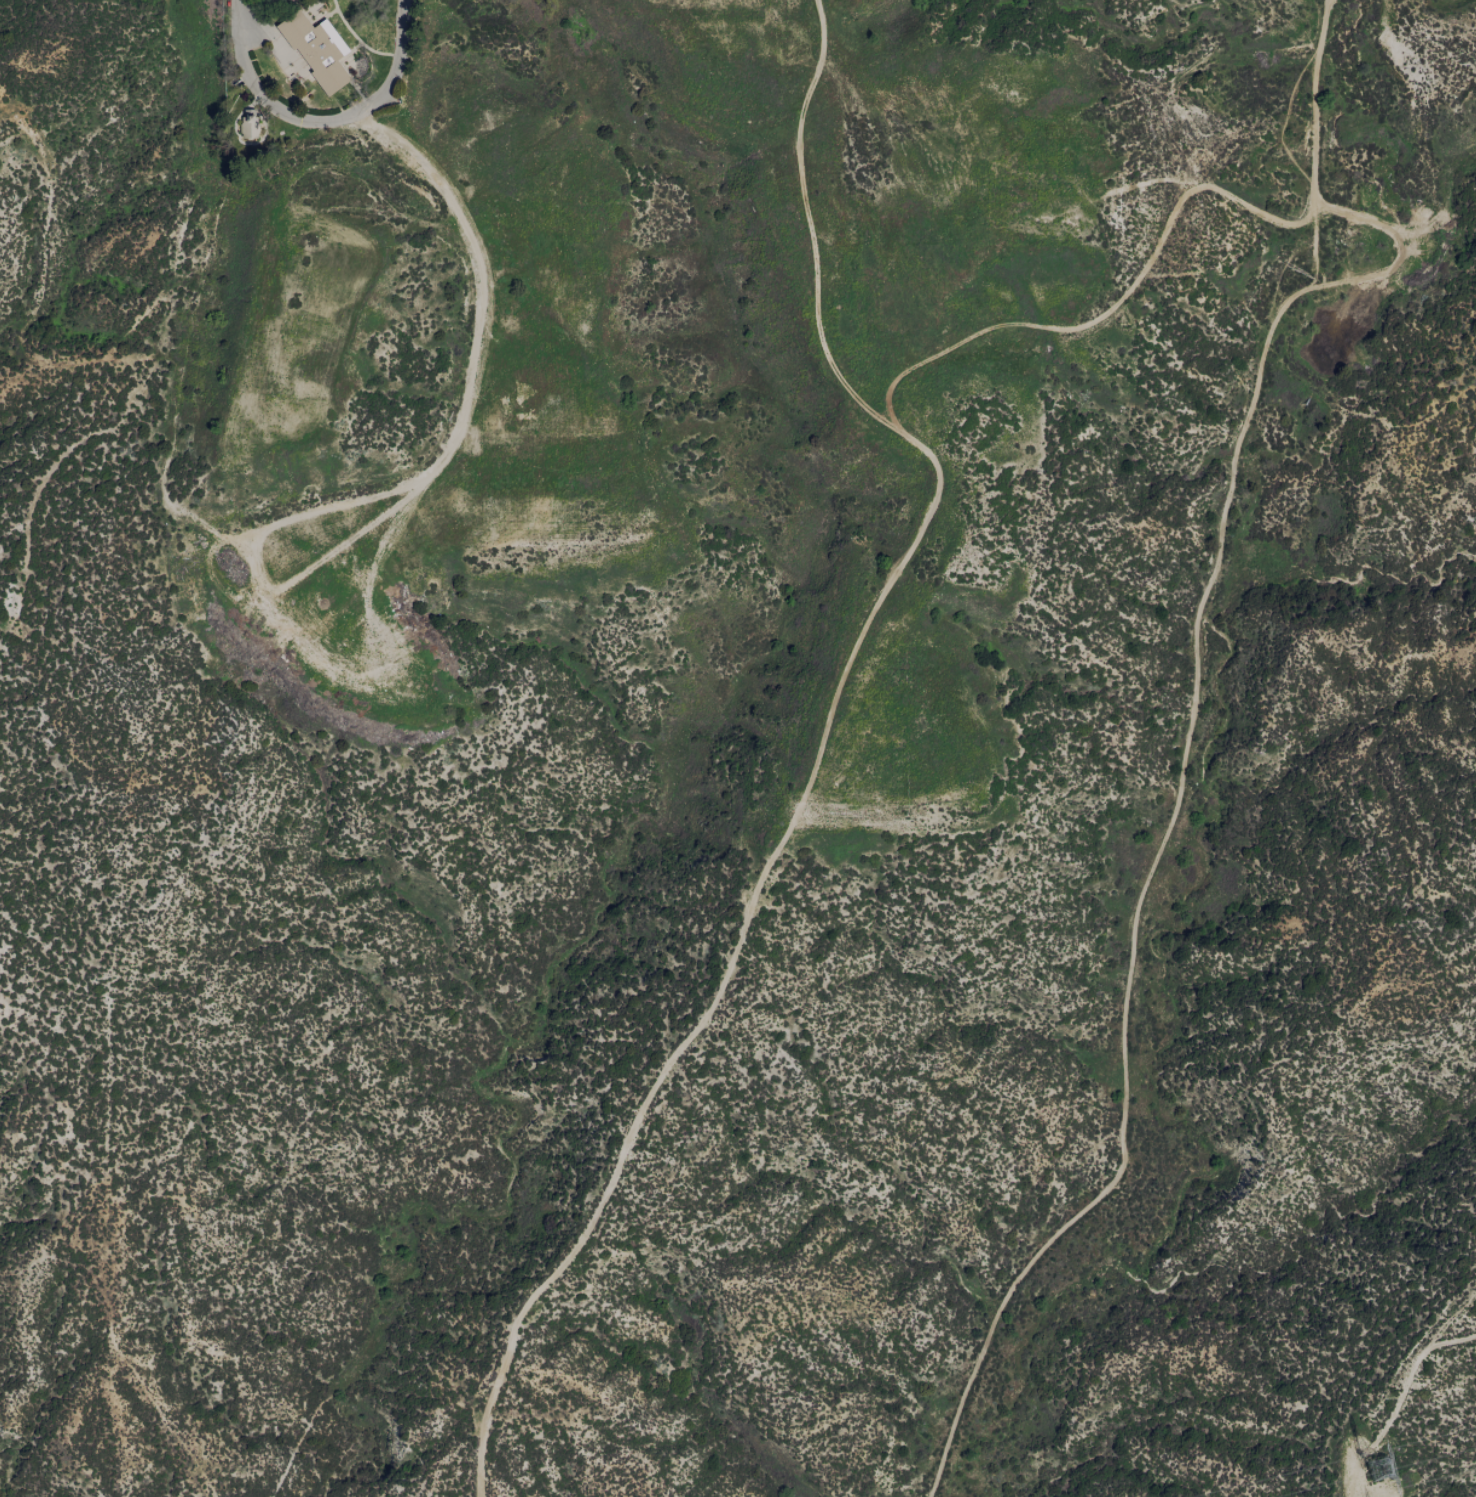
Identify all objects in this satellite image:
building: (307, 51)
road: (321, 119)
power tower: (1379, 1470)

